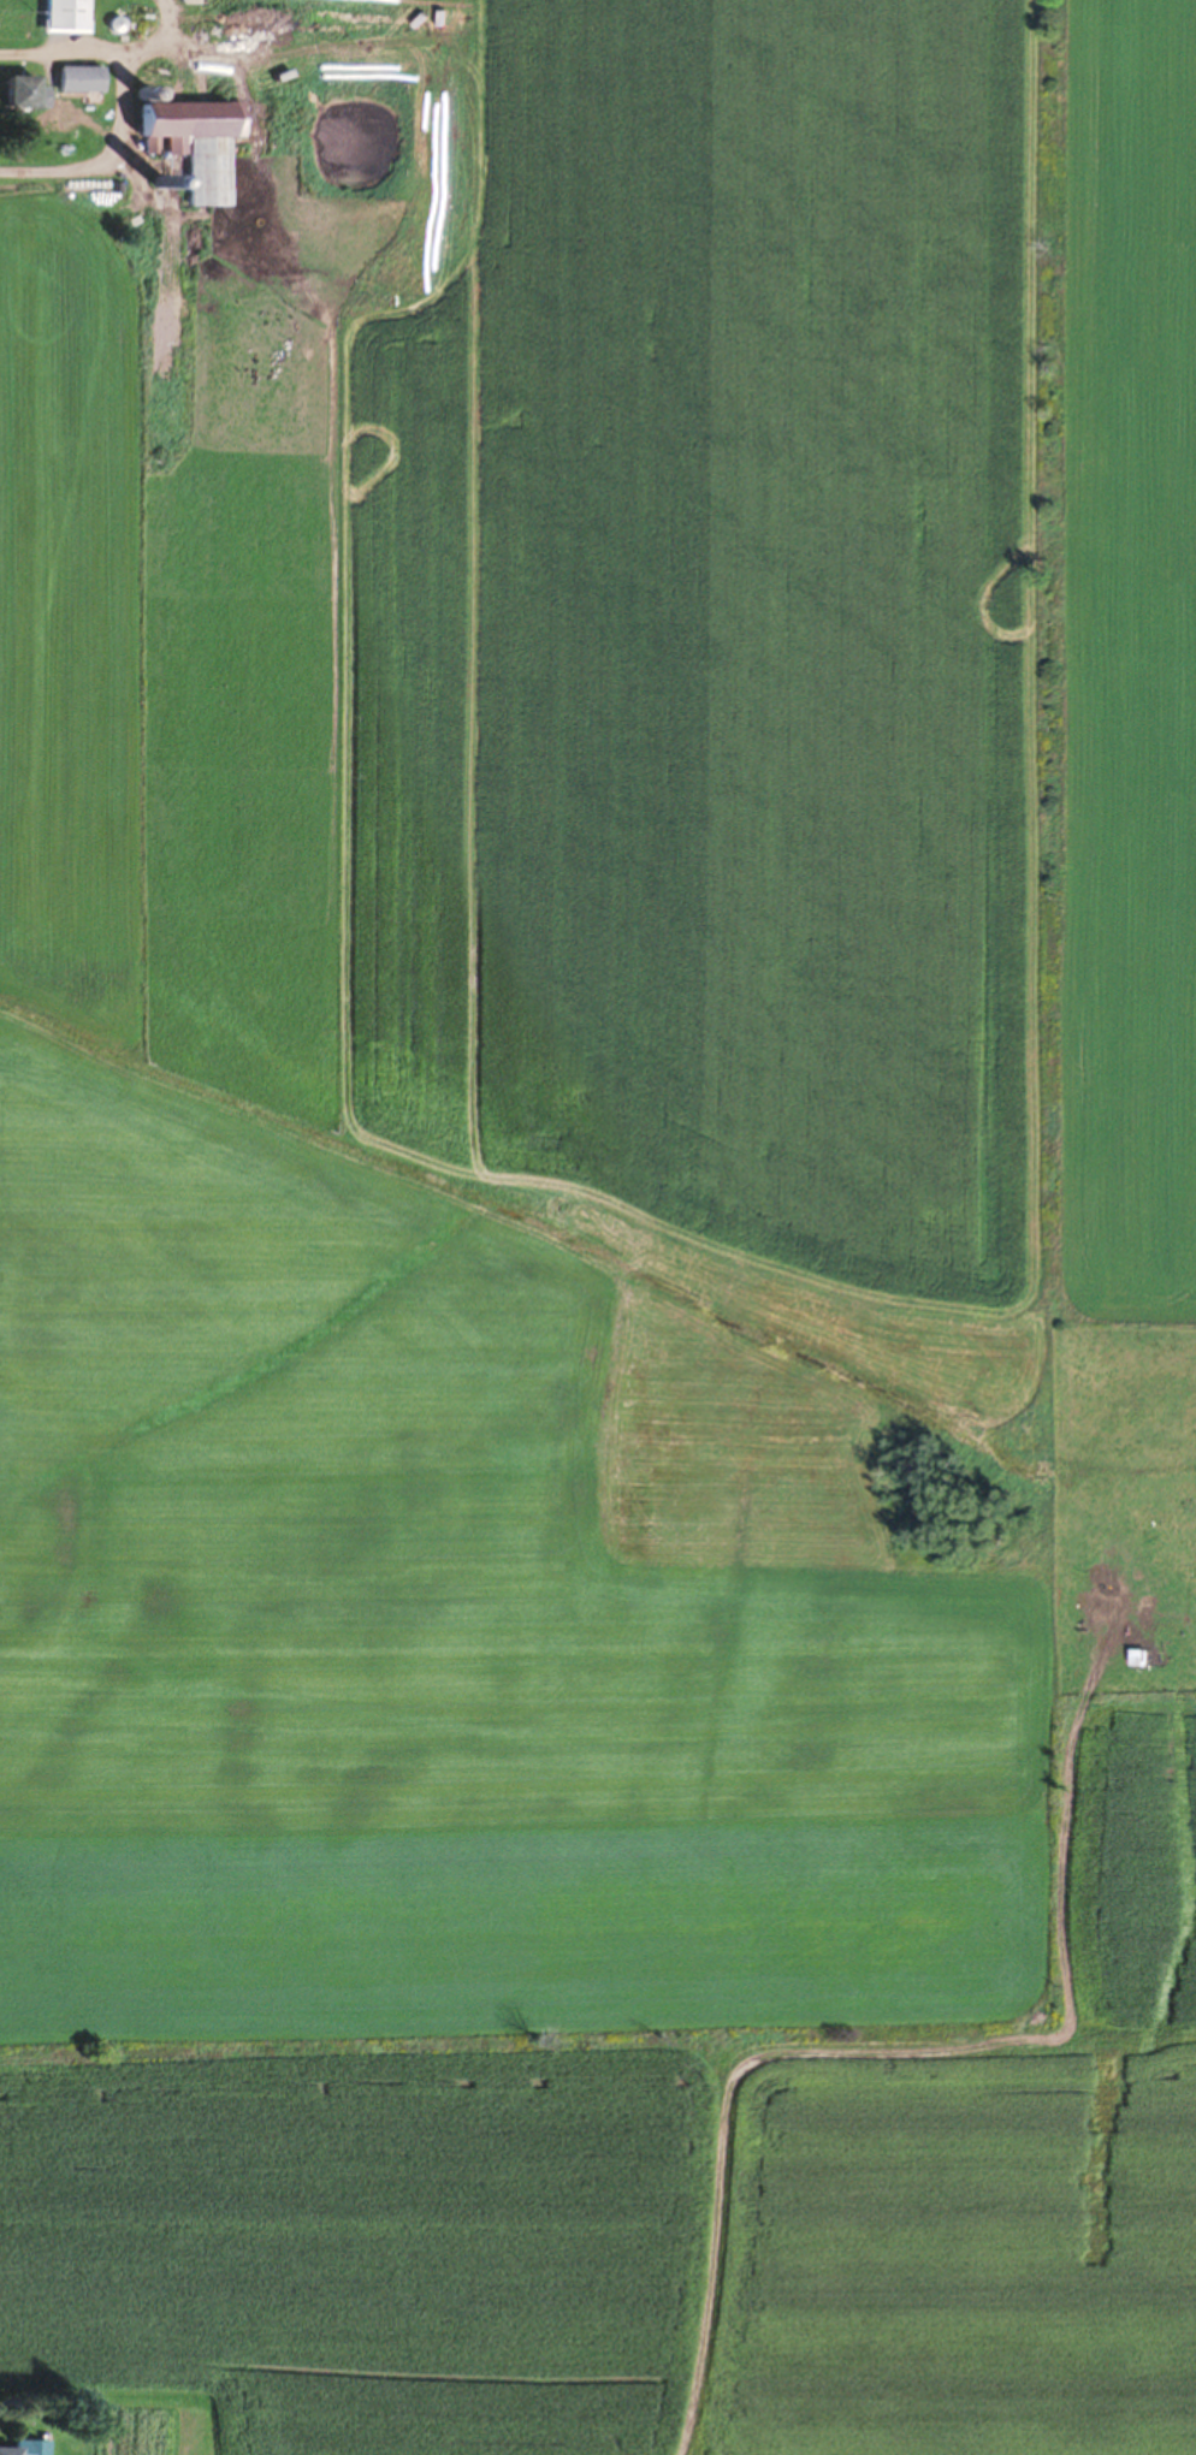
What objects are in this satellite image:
building: (65, 14)
building: (18, 88)
building: (199, 142)
building: (1143, 1656)
building: (24, 2448)

